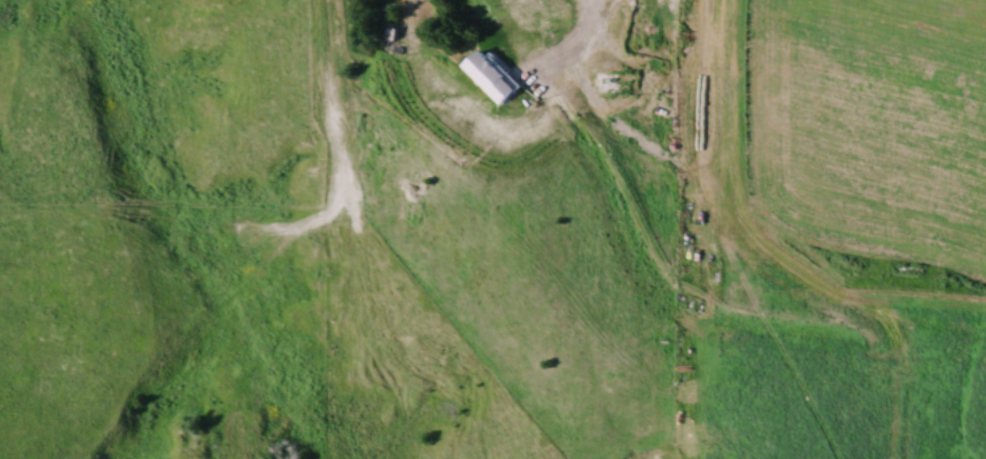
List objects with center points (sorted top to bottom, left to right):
road: (590, 15)
building: (531, 18)
building: (608, 86)

